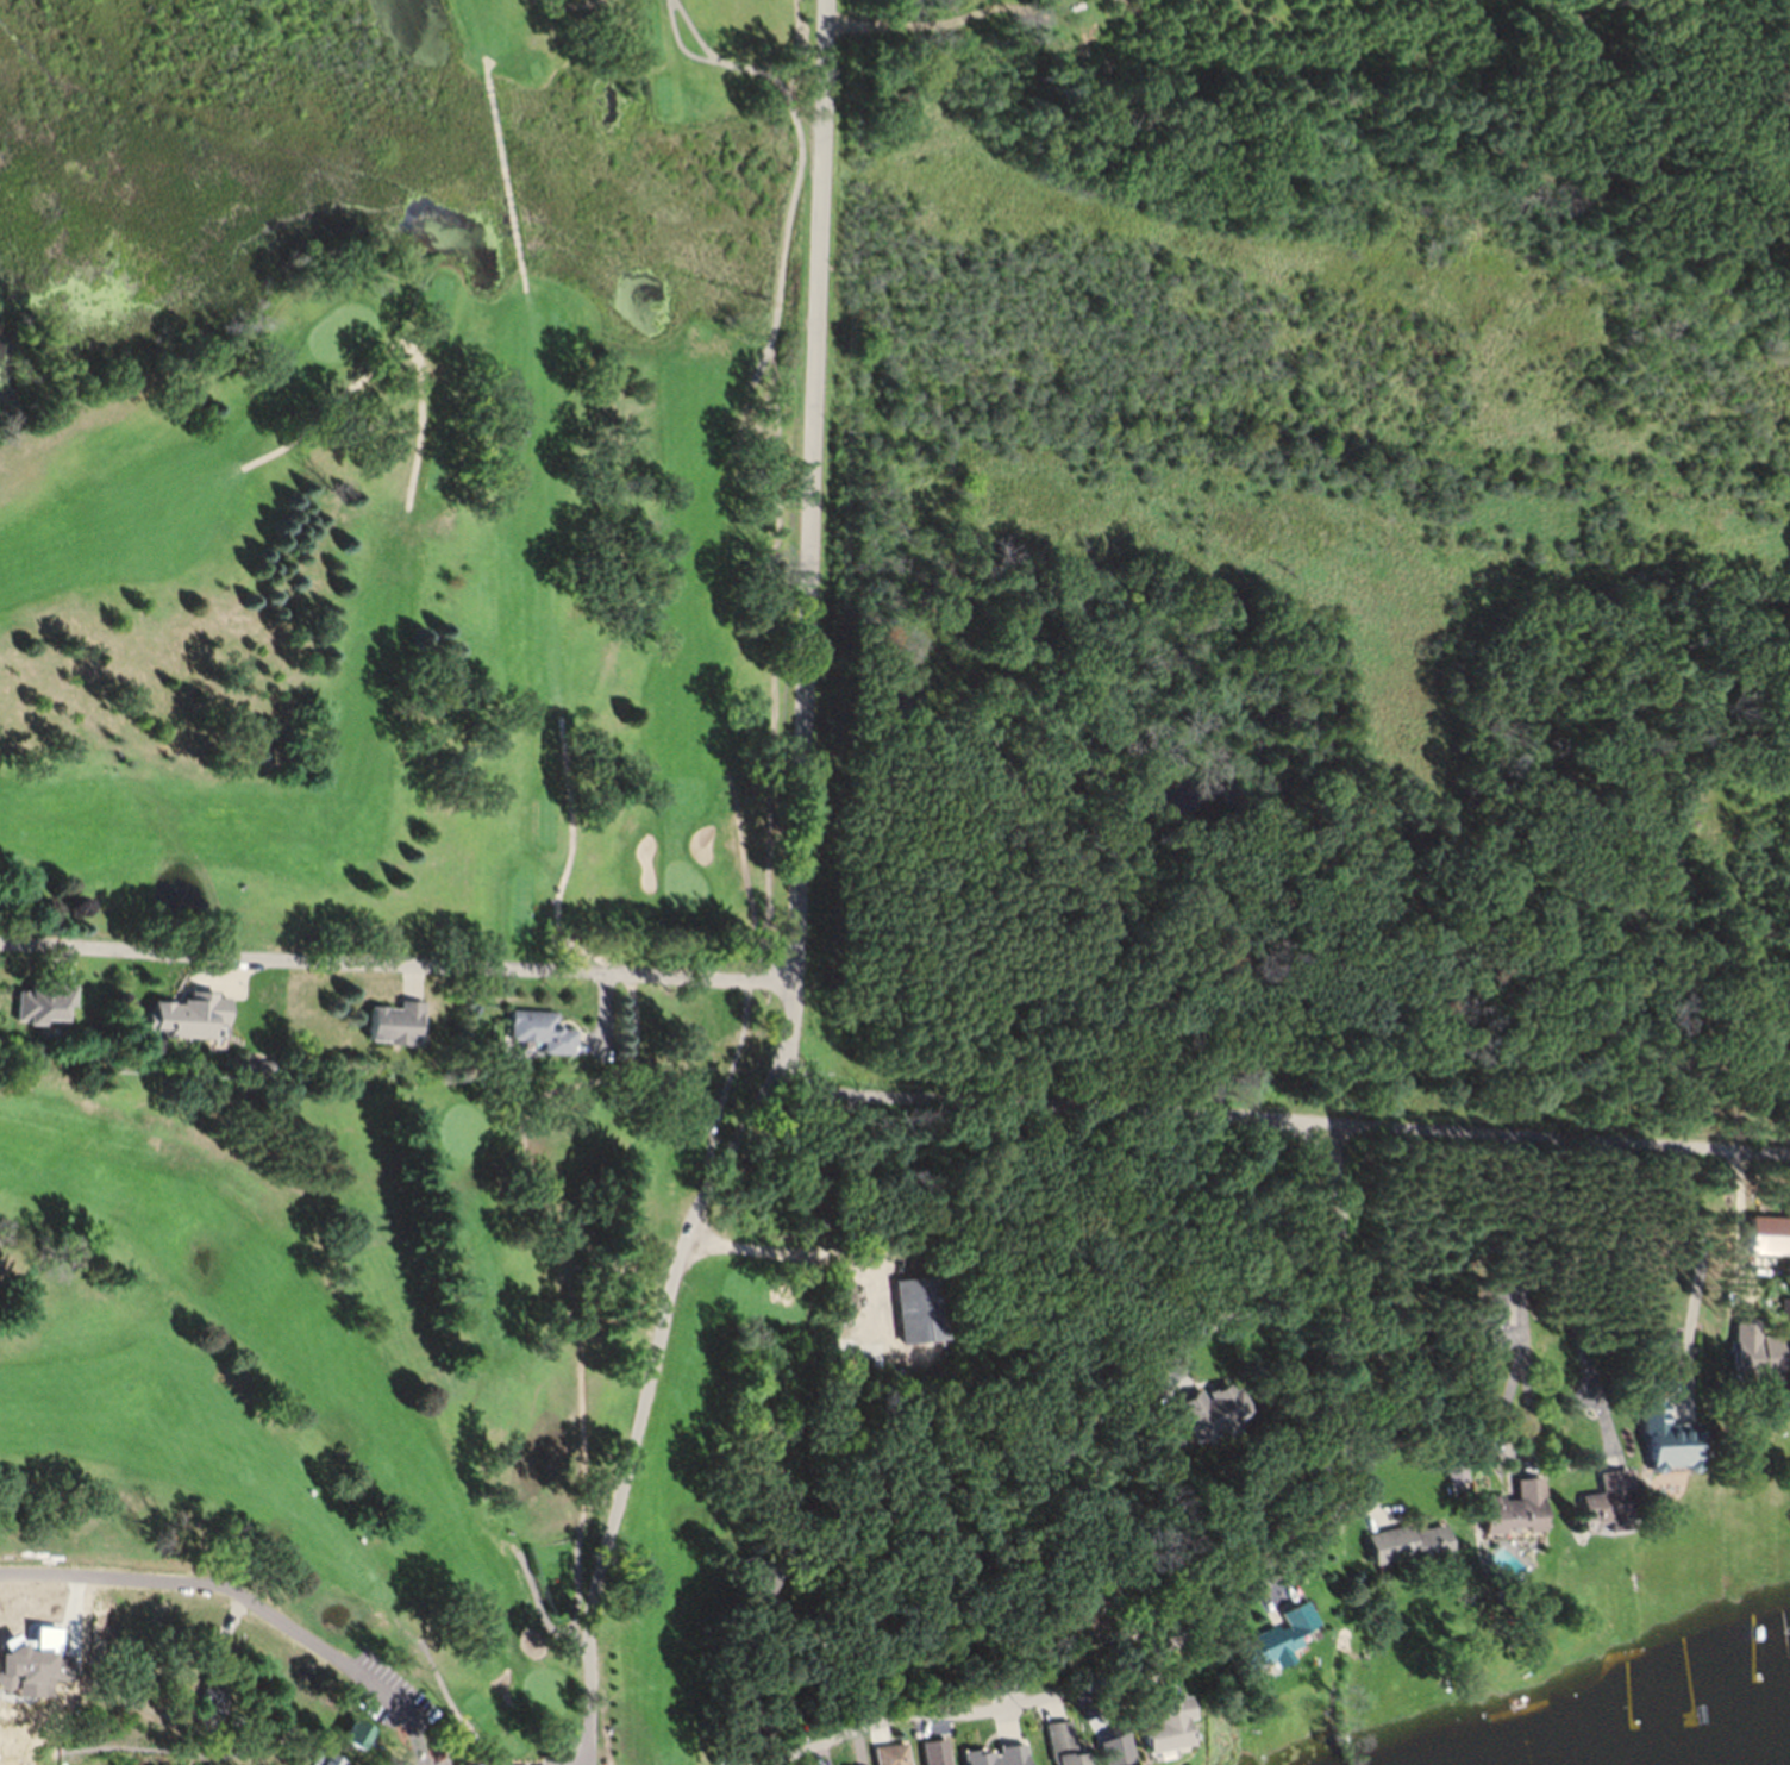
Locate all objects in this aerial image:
road: (1047, 15)
road: (914, 21)
road: (813, 490)
road: (396, 965)
building: (45, 1012)
building: (187, 1026)
building: (390, 1032)
road: (788, 1034)
building: (537, 1039)
road: (1281, 1124)
road: (1744, 1238)
building: (1767, 1245)
road: (1703, 1278)
road: (1246, 1312)
building: (919, 1318)
building: (1491, 1320)
building: (1752, 1364)
road: (652, 1365)
park: (369, 1410)
building: (1207, 1415)
building: (1665, 1459)
road: (1112, 1465)
building: (1604, 1513)
building: (1512, 1520)
building: (1404, 1553)
road: (1263, 1590)
road: (242, 1610)
building: (1278, 1646)
road: (824, 1659)
road: (590, 1715)
building: (1158, 1734)
building: (350, 1744)
building: (883, 1753)
building: (933, 1757)
building: (991, 1760)
building: (846, 1761)
building: (1065, 1763)

